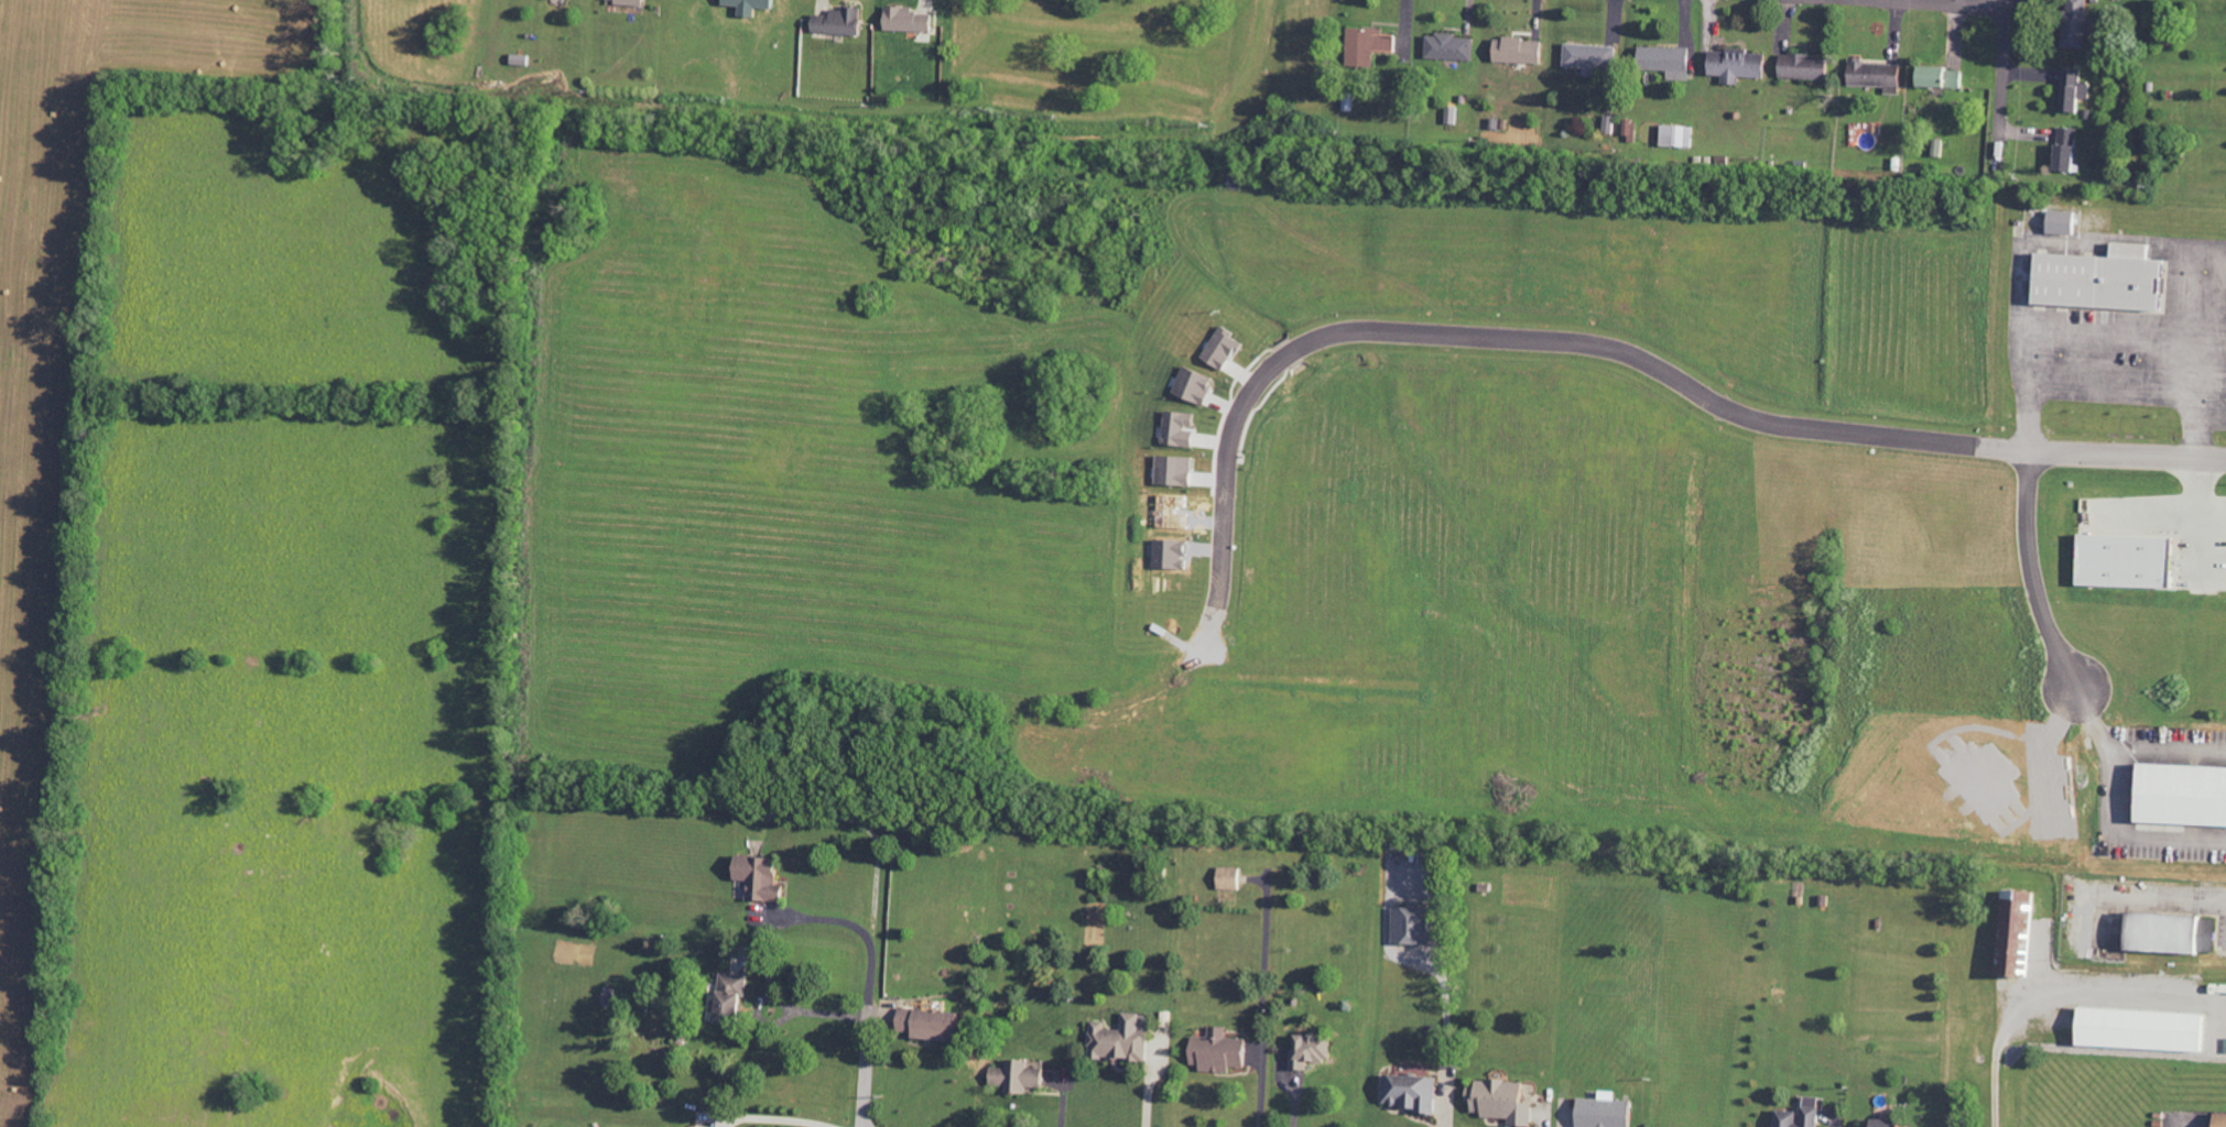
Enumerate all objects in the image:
building: (633, 2)
road: (1934, 4)
building: (911, 20)
building: (843, 22)
building: (2078, 23)
building: (1371, 45)
building: (1452, 46)
building: (1521, 50)
building: (1593, 56)
building: (1670, 61)
building: (1741, 64)
building: (1807, 66)
road: (2000, 68)
building: (1879, 74)
building: (1945, 77)
building: (2075, 89)
building: (1610, 123)
building: (1679, 135)
building: (2071, 149)
building: (2065, 221)
building: (2106, 281)
building: (1227, 348)
building: (1198, 384)
road: (2113, 390)
road: (1789, 427)
building: (1183, 428)
building: (1177, 470)
building: (2131, 561)
road: (2064, 660)
building: (2185, 796)
building: (764, 877)
building: (1233, 878)
road: (856, 926)
building: (1416, 926)
building: (2170, 932)
building: (2021, 933)
road: (2061, 992)
building: (736, 998)
building: (935, 1025)
building: (2149, 1029)
road: (1445, 1037)
building: (1122, 1040)
building: (1223, 1051)
building: (1314, 1051)
road: (865, 1064)
building: (1022, 1077)
building: (1415, 1092)
building: (1506, 1101)
building: (1611, 1112)
building: (1790, 1116)
building: (2222, 1119)
road: (765, 1120)
building: (1894, 1123)

